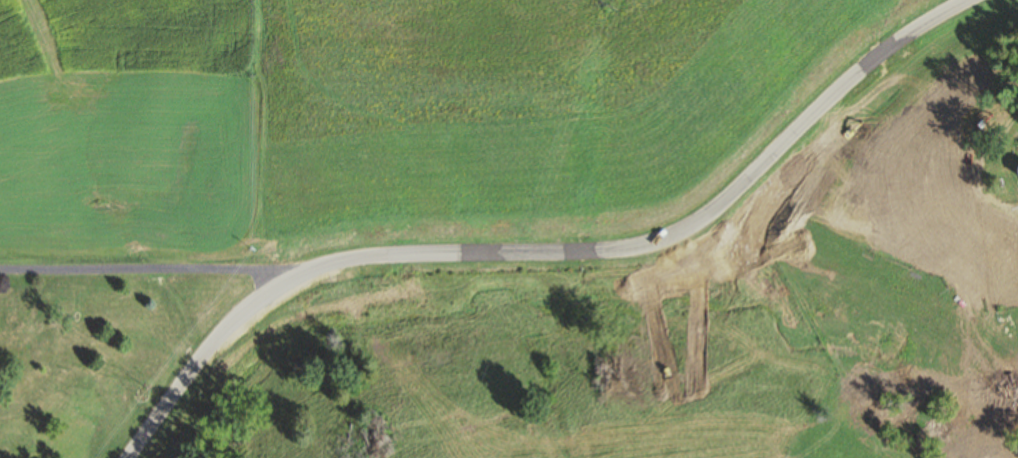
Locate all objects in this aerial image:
building: (946, 230)
road: (539, 252)
building: (973, 279)

